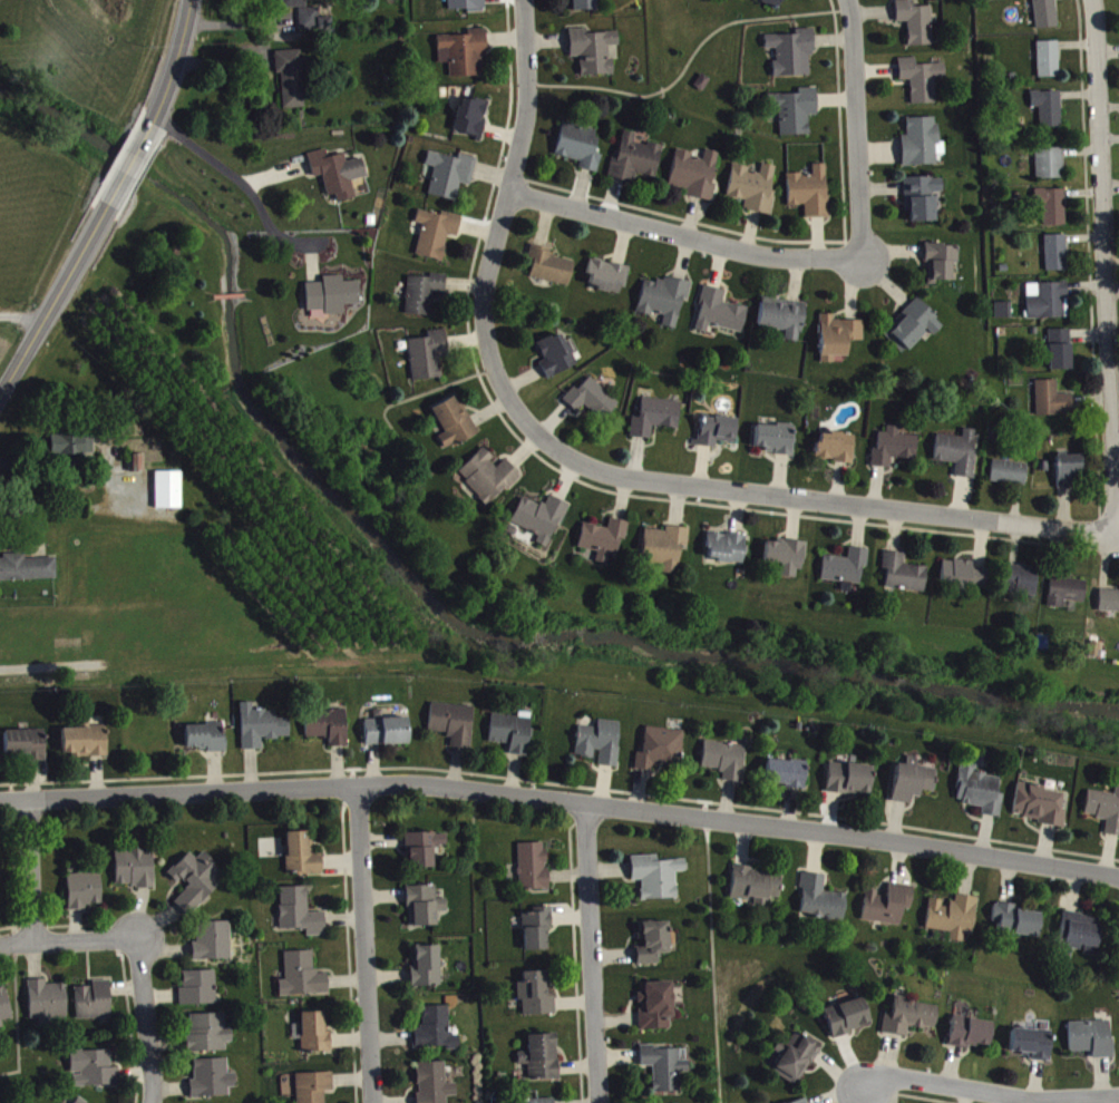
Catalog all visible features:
building: (296, 6)
building: (776, 6)
building: (583, 8)
building: (1045, 17)
building: (314, 25)
building: (916, 27)
building: (594, 56)
building: (465, 58)
building: (792, 58)
road: (173, 62)
building: (1049, 65)
building: (292, 84)
building: (922, 85)
building: (1049, 114)
building: (796, 116)
building: (471, 121)
road: (857, 129)
building: (922, 147)
building: (580, 150)
road: (213, 160)
road: (128, 164)
building: (635, 164)
building: (1050, 168)
building: (338, 178)
building: (451, 179)
building: (695, 179)
building: (753, 193)
building: (810, 197)
building: (922, 203)
building: (1052, 211)
road: (508, 215)
building: (436, 238)
road: (687, 241)
building: (1057, 258)
building: (941, 267)
road: (1106, 270)
building: (551, 272)
building: (607, 282)
building: (424, 299)
building: (332, 300)
road: (53, 301)
building: (664, 304)
building: (1048, 306)
building: (1003, 315)
building: (720, 318)
building: (784, 324)
building: (913, 331)
building: (838, 342)
building: (1060, 354)
building: (428, 360)
building: (556, 360)
building: (592, 404)
building: (1052, 404)
building: (655, 422)
building: (455, 428)
building: (717, 436)
building: (775, 443)
building: (74, 450)
building: (837, 452)
building: (894, 452)
building: (957, 457)
building: (1070, 477)
building: (1009, 478)
building: (488, 482)
building: (168, 496)
road: (809, 505)
building: (541, 524)
building: (603, 545)
building: (664, 553)
building: (726, 553)
building: (786, 563)
building: (27, 574)
building: (846, 574)
building: (964, 578)
building: (903, 579)
building: (1021, 586)
building: (1067, 597)
building: (1109, 606)
building: (454, 729)
building: (329, 731)
building: (262, 732)
building: (388, 736)
building: (512, 739)
building: (206, 742)
building: (86, 746)
building: (601, 748)
building: (26, 750)
building: (661, 754)
building: (724, 764)
building: (786, 779)
building: (849, 784)
building: (913, 788)
building: (980, 797)
road: (561, 801)
building: (1041, 810)
building: (1105, 814)
building: (425, 855)
building: (302, 860)
road: (30, 868)
building: (534, 871)
building: (135, 872)
building: (658, 881)
building: (196, 887)
building: (757, 890)
building: (85, 896)
building: (821, 905)
building: (888, 910)
building: (425, 911)
building: (301, 918)
building: (953, 921)
building: (1016, 925)
building: (538, 934)
building: (1082, 938)
road: (67, 939)
road: (362, 944)
building: (213, 947)
building: (653, 948)
road: (591, 954)
road: (711, 959)
building: (427, 972)
building: (303, 982)
building: (200, 993)
building: (536, 1000)
building: (48, 1006)
building: (95, 1006)
building: (656, 1011)
building: (4, 1012)
road: (14, 1015)
road: (145, 1021)
building: (847, 1023)
building: (909, 1023)
building: (437, 1035)
building: (211, 1038)
building: (315, 1038)
building: (971, 1038)
building: (1091, 1044)
building: (1032, 1048)
building: (542, 1063)
building: (796, 1063)
building: (664, 1073)
building: (95, 1074)
building: (212, 1084)
building: (435, 1086)
building: (314, 1090)
road: (990, 1092)

